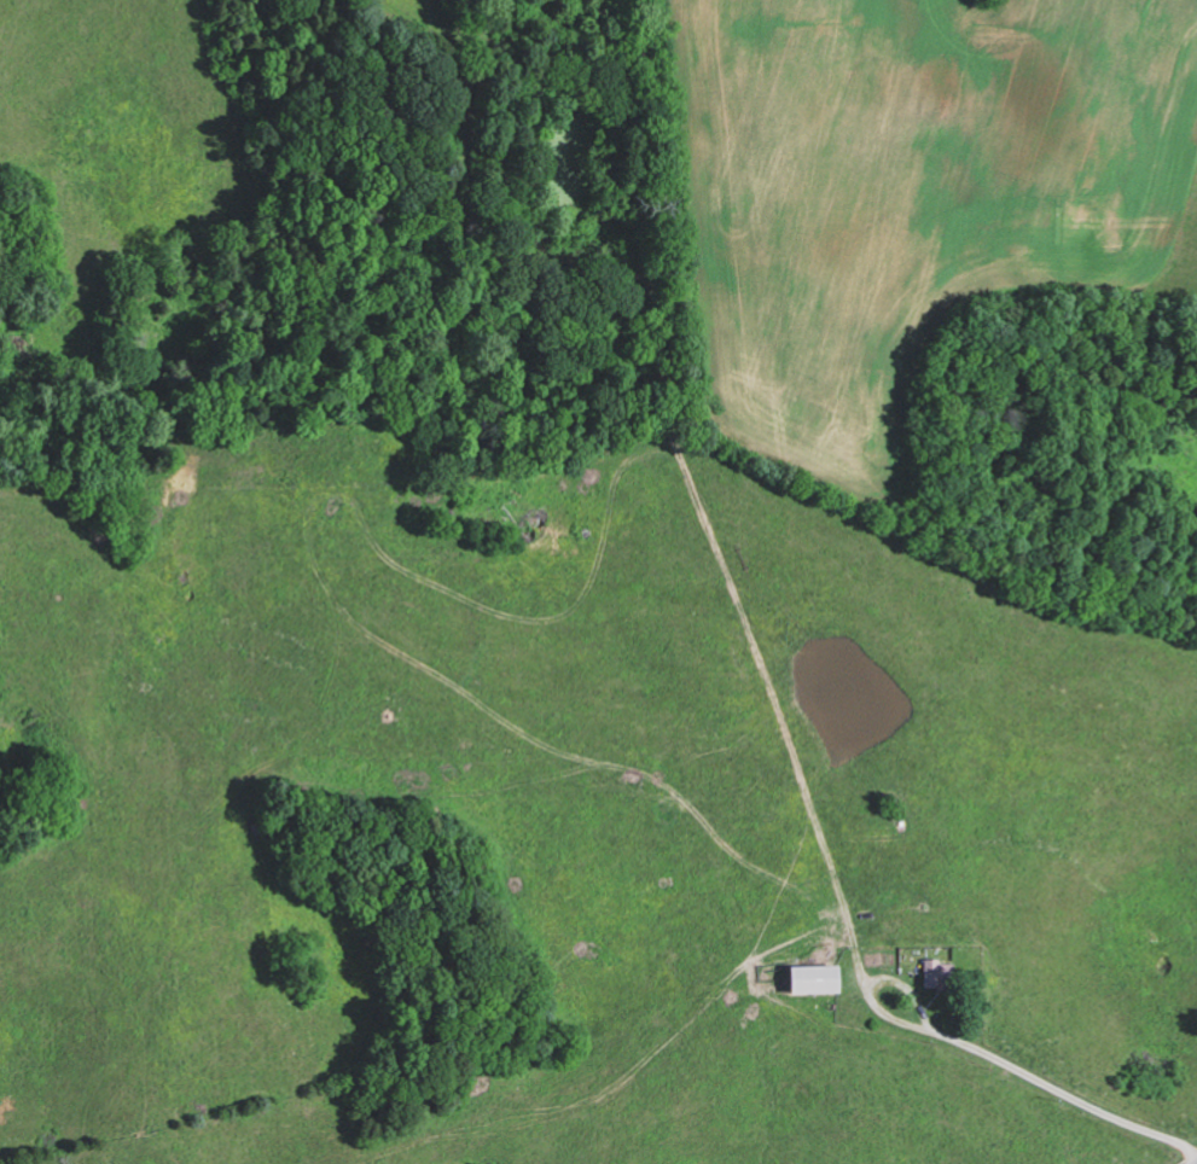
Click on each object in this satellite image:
building: (930, 972)
building: (810, 978)
road: (1068, 1094)
road: (1196, 1163)

